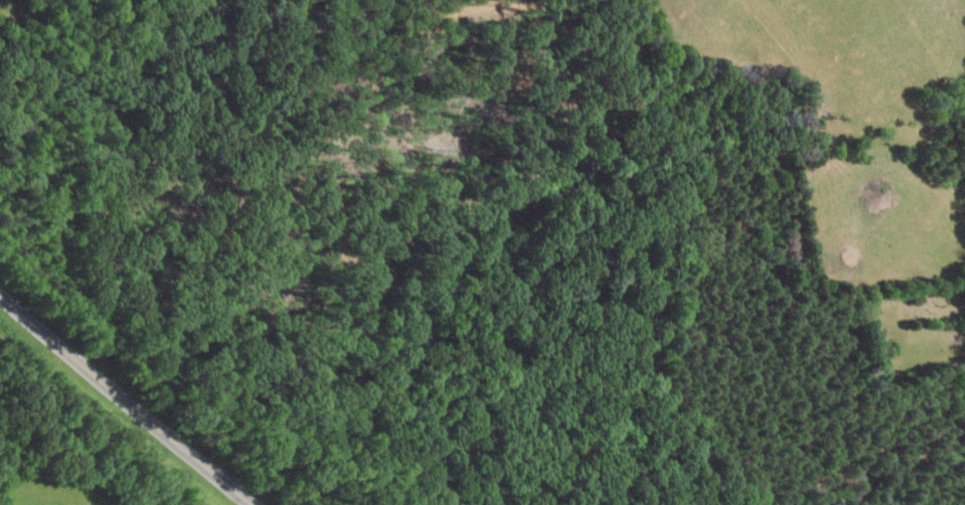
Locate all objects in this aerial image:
road: (128, 400)

